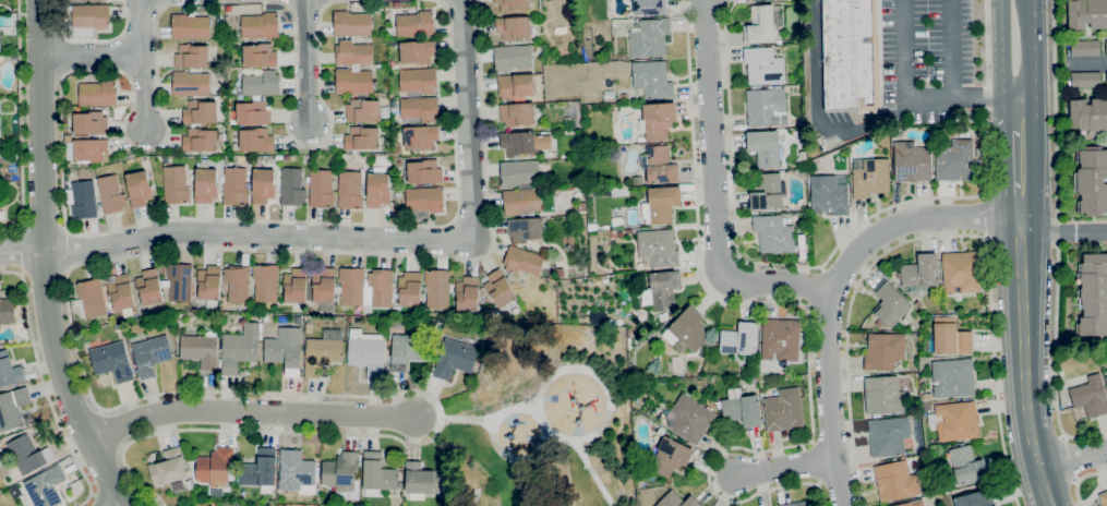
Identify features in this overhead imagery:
building: (757, 0)
building: (512, 4)
building: (649, 7)
building: (1087, 13)
building: (91, 16)
building: (351, 23)
building: (416, 24)
building: (260, 25)
building: (760, 25)
road: (140, 27)
building: (190, 27)
building: (513, 27)
building: (221, 34)
building: (649, 37)
building: (0, 40)
road: (92, 41)
building: (228, 41)
parking lot: (926, 43)
building: (1106, 47)
road: (951, 48)
building: (1085, 48)
building: (417, 50)
road: (1002, 50)
road: (1033, 50)
building: (353, 52)
road: (61, 56)
road: (89, 56)
building: (191, 56)
building: (260, 56)
building: (851, 56)
building: (14, 58)
building: (512, 58)
road: (306, 60)
road: (1093, 62)
building: (762, 67)
road: (80, 70)
building: (1085, 79)
building: (1106, 79)
building: (418, 80)
building: (353, 81)
building: (652, 81)
building: (190, 84)
building: (262, 84)
building: (515, 86)
road: (143, 89)
building: (240, 91)
building: (97, 93)
building: (623, 96)
building: (240, 97)
road: (913, 97)
building: (767, 107)
road: (815, 107)
building: (419, 108)
building: (625, 108)
building: (362, 110)
building: (200, 111)
building: (385, 111)
building: (251, 112)
building: (517, 113)
road: (1018, 113)
building: (1088, 115)
building: (567, 120)
building: (657, 120)
road: (20, 123)
building: (89, 123)
building: (420, 136)
building: (362, 138)
building: (640, 138)
building: (200, 140)
building: (256, 140)
building: (522, 142)
building: (766, 147)
building: (91, 149)
building: (803, 155)
building: (955, 160)
building: (912, 161)
building: (659, 165)
road: (733, 169)
building: (423, 172)
building: (518, 172)
road: (1019, 172)
building: (8, 178)
building: (871, 178)
building: (1092, 180)
building: (176, 184)
building: (205, 185)
building: (263, 185)
building: (236, 186)
building: (292, 186)
building: (139, 188)
building: (321, 188)
building: (377, 188)
road: (983, 189)
building: (350, 190)
building: (618, 191)
building: (588, 192)
road: (714, 192)
building: (766, 192)
building: (111, 194)
building: (829, 194)
building: (424, 198)
building: (82, 200)
building: (521, 201)
building: (661, 204)
building: (581, 206)
road: (984, 216)
road: (910, 221)
building: (617, 222)
road: (43, 226)
building: (592, 227)
building: (525, 228)
building: (605, 228)
building: (629, 231)
road: (1061, 231)
building: (616, 233)
building: (773, 233)
road: (935, 236)
road: (1057, 240)
road: (380, 242)
building: (658, 248)
road: (67, 249)
road: (21, 250)
road: (21, 251)
road: (405, 254)
road: (43, 260)
building: (522, 261)
building: (921, 270)
building: (961, 272)
building: (558, 273)
road: (45, 277)
building: (179, 281)
building: (237, 282)
building: (265, 282)
building: (208, 285)
building: (351, 286)
building: (149, 287)
building: (296, 288)
building: (324, 288)
building: (377, 288)
building: (437, 288)
building: (500, 288)
building: (409, 289)
building: (662, 289)
building: (121, 293)
building: (467, 293)
building: (1093, 296)
building: (91, 299)
building: (890, 305)
building: (919, 305)
road: (807, 308)
building: (7, 311)
building: (256, 316)
building: (664, 316)
building: (176, 317)
building: (446, 325)
building: (309, 328)
building: (687, 330)
building: (805, 336)
building: (950, 336)
building: (741, 339)
building: (781, 339)
building: (240, 348)
building: (201, 349)
building: (285, 349)
building: (706, 349)
building: (408, 350)
building: (885, 350)
building: (323, 351)
building: (366, 352)
building: (151, 354)
building: (454, 358)
building: (112, 361)
road: (1024, 362)
building: (9, 370)
road: (595, 375)
building: (953, 377)
building: (1106, 378)
building: (751, 381)
road: (44, 386)
road: (407, 390)
building: (883, 396)
building: (1090, 396)
building: (927, 397)
road: (830, 400)
building: (719, 405)
building: (926, 407)
building: (12, 408)
building: (742, 410)
building: (783, 410)
road: (532, 414)
road: (250, 417)
building: (690, 419)
park: (544, 421)
building: (955, 421)
road: (111, 430)
building: (661, 431)
building: (888, 436)
building: (27, 454)
building: (671, 457)
road: (515, 458)
road: (1070, 458)
road: (1072, 458)
building: (967, 466)
building: (215, 467)
road: (786, 467)
building: (168, 468)
building: (260, 469)
building: (296, 471)
building: (341, 473)
building: (377, 474)
building: (898, 479)
road: (1080, 479)
building: (421, 480)
building: (189, 483)
building: (45, 486)
building: (1, 491)
building: (1104, 497)
building: (975, 498)
road: (94, 499)
building: (677, 501)
building: (802, 503)
building: (912, 503)
building: (0, 505)
road: (116, 505)
building: (195, 505)

